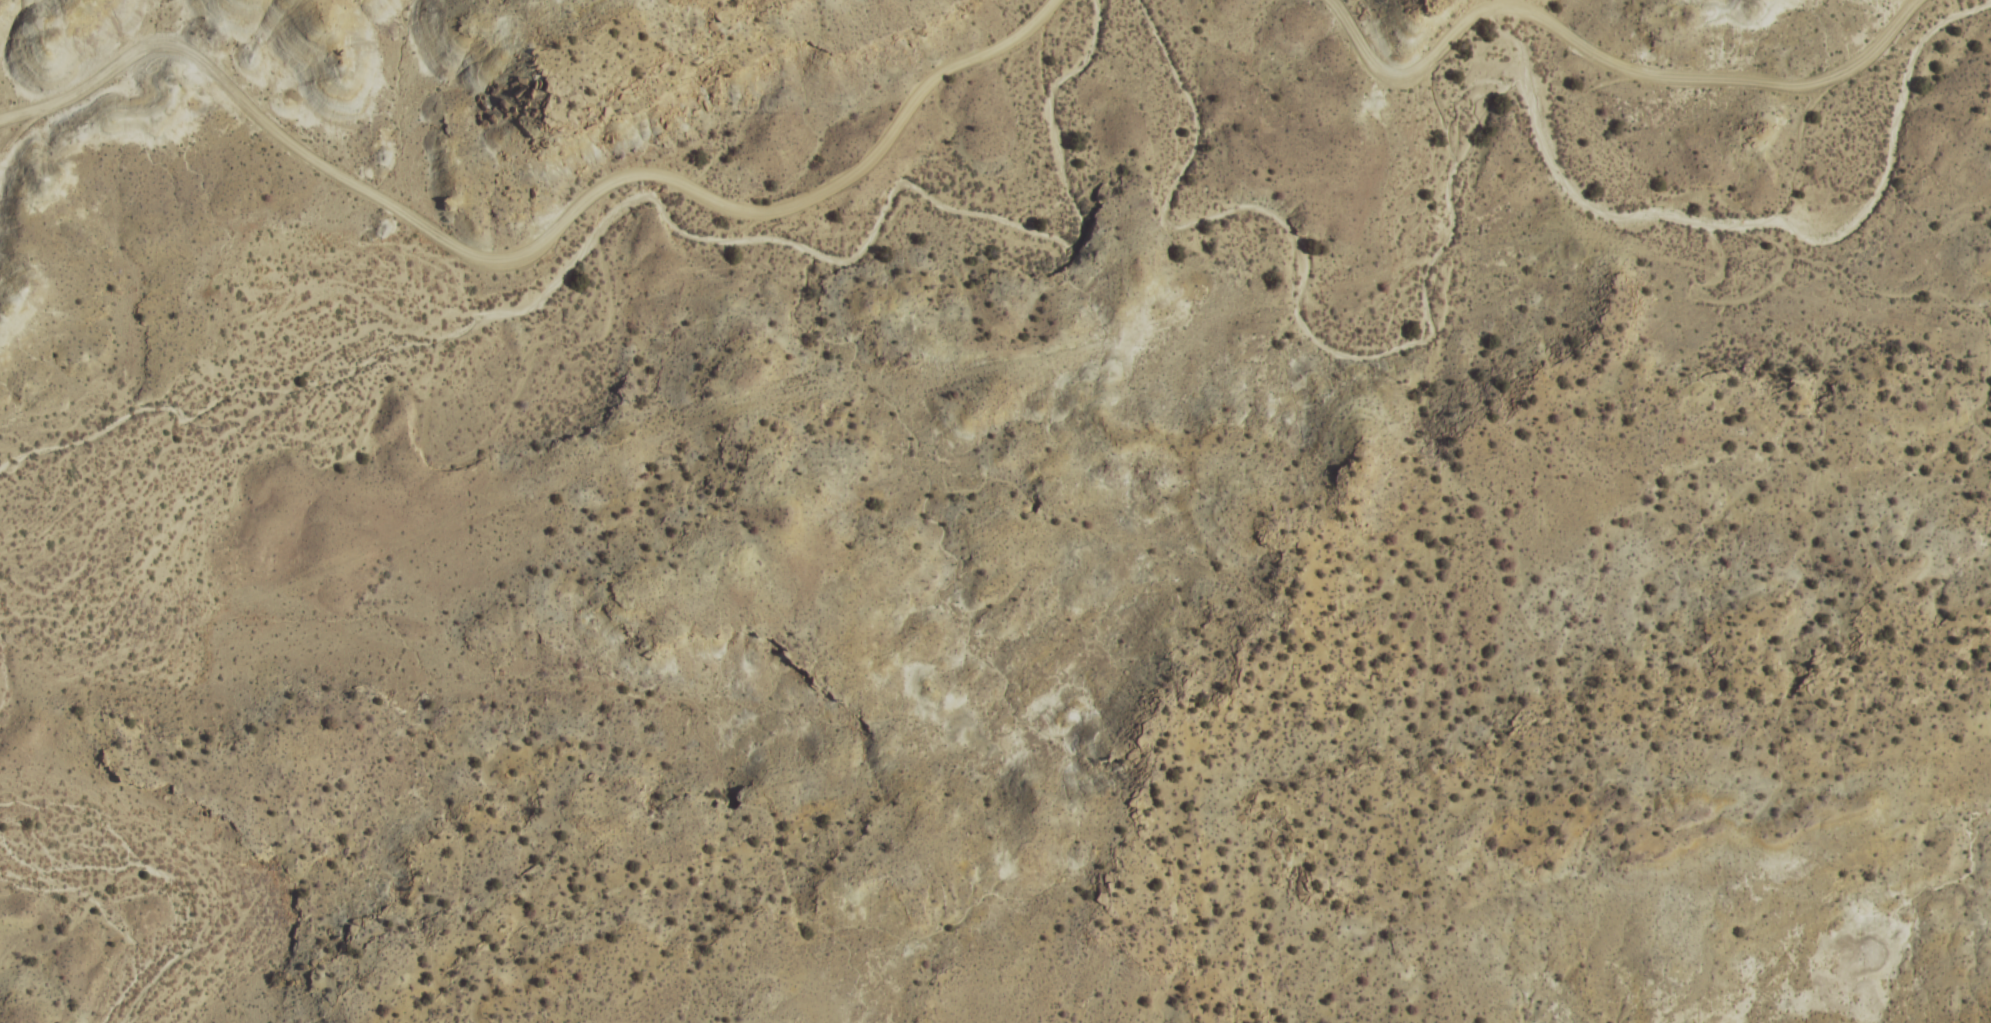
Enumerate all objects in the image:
road: (1406, 62)
road: (1721, 70)
road: (535, 237)

